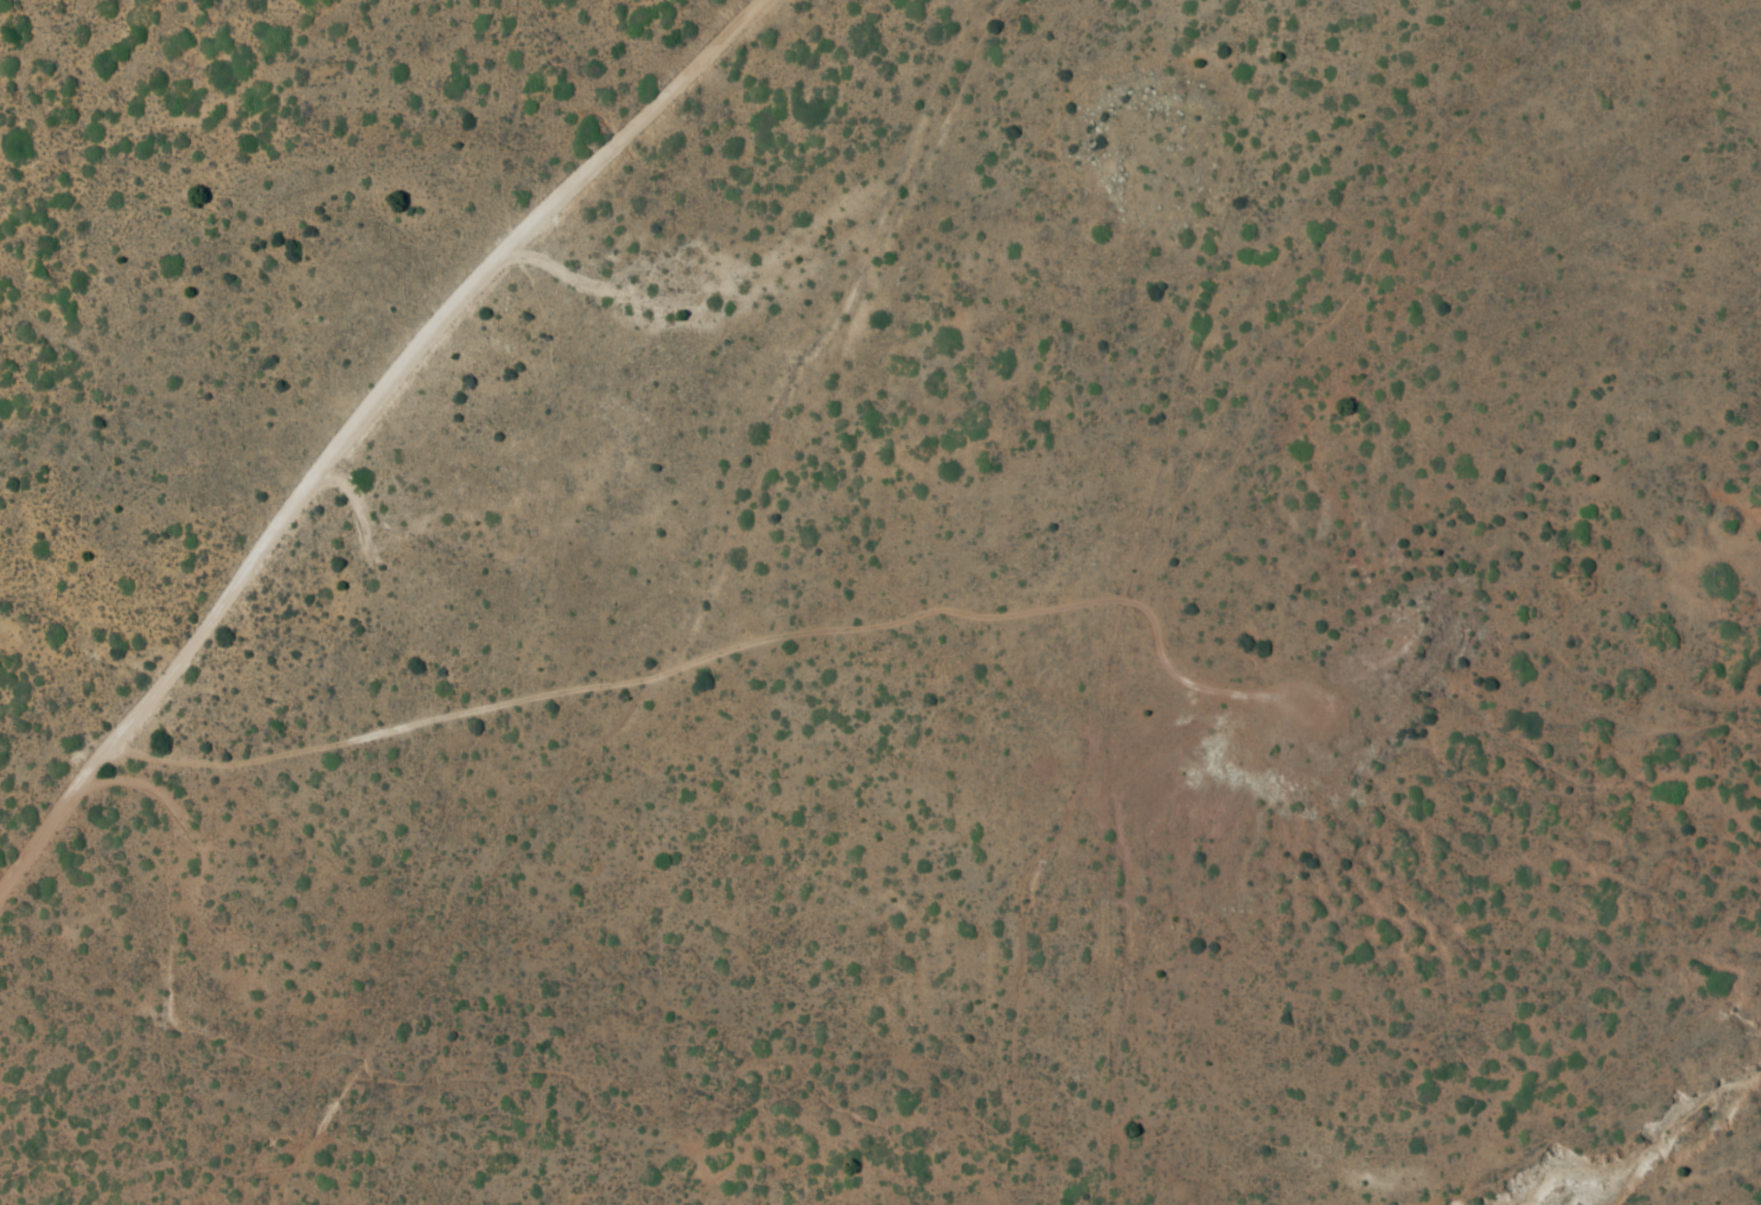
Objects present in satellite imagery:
road: (356, 423)

